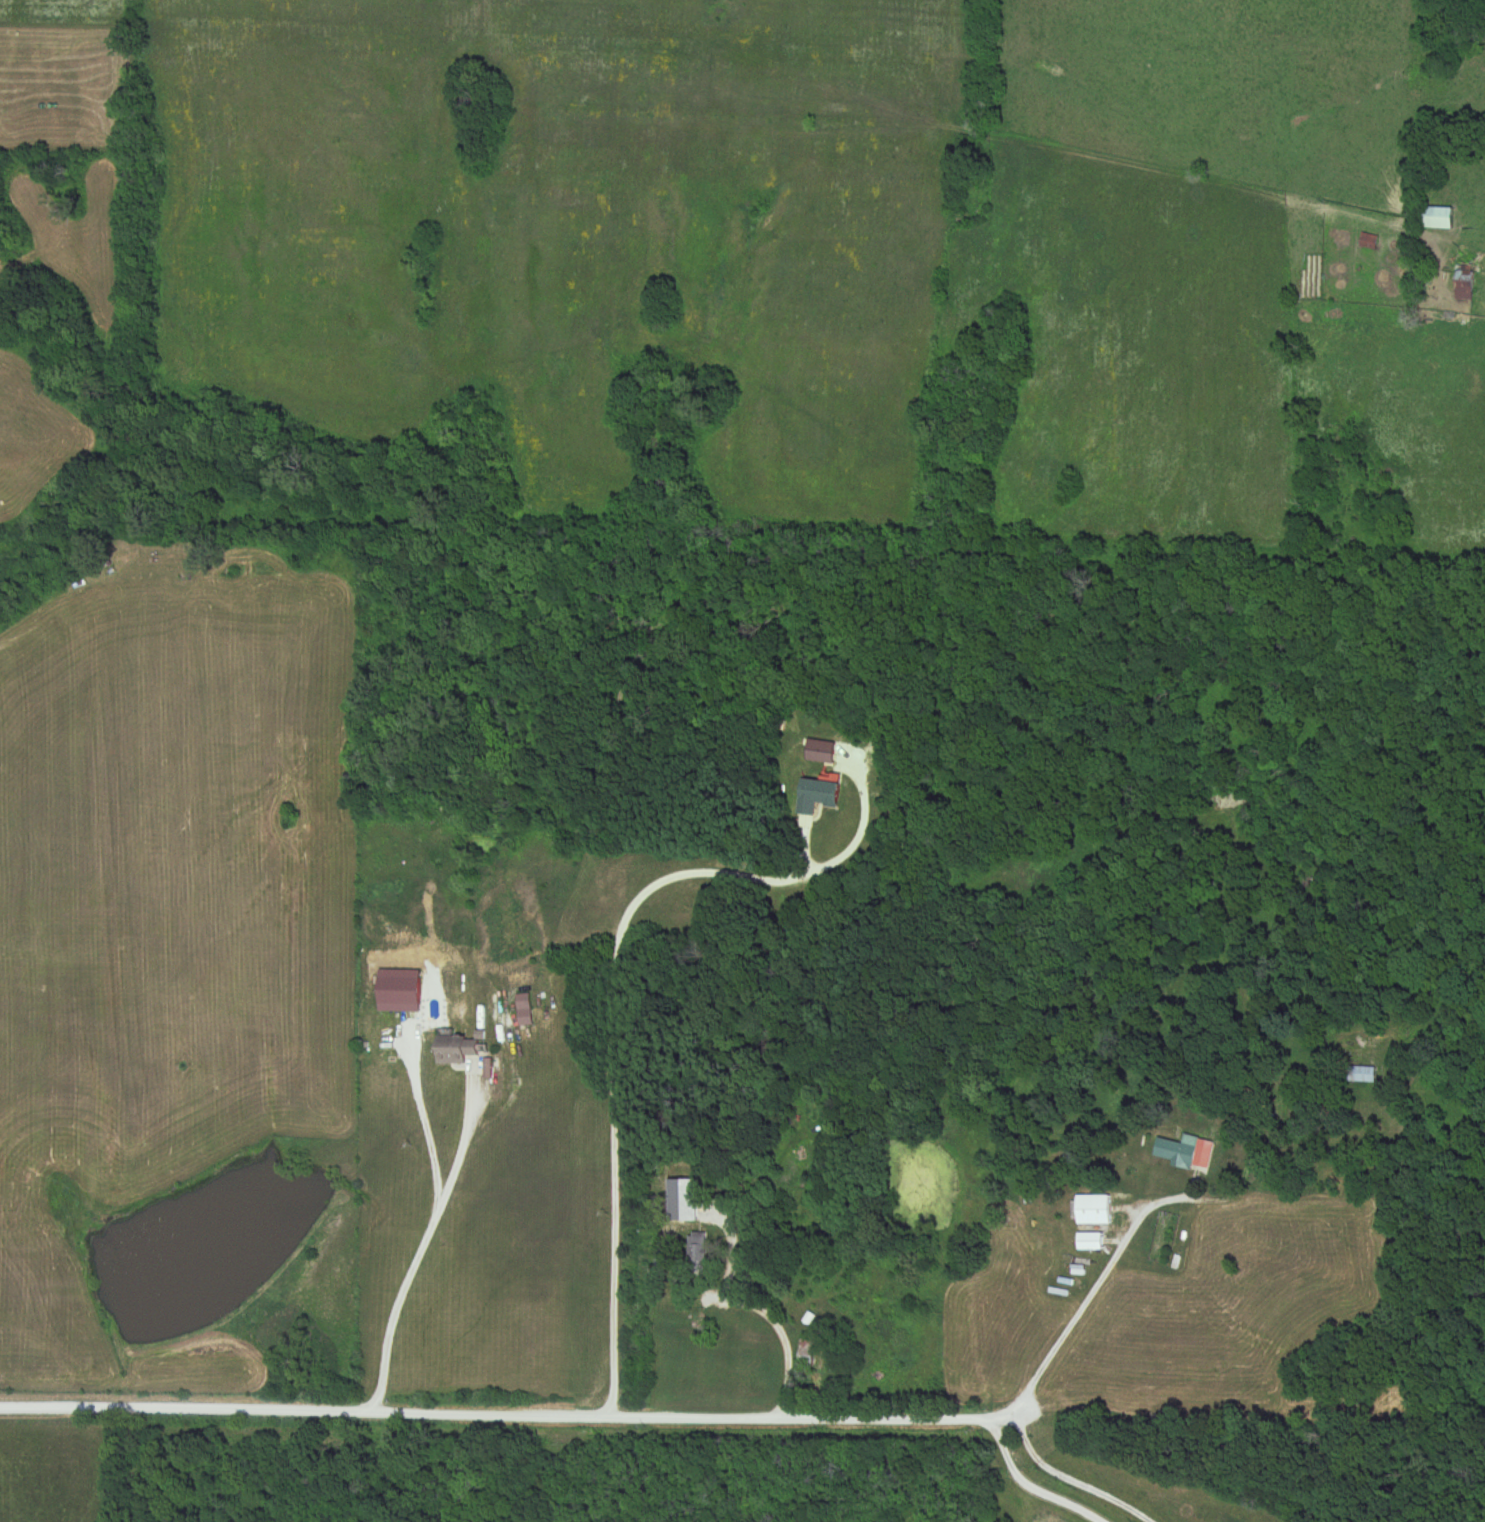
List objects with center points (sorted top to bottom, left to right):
building: (1439, 218)
building: (1368, 242)
building: (1464, 290)
building: (818, 796)
road: (614, 1045)
building: (455, 1056)
building: (1359, 1075)
road: (421, 1118)
building: (1187, 1154)
building: (1094, 1211)
building: (1090, 1242)
road: (418, 1248)
building: (696, 1252)
road: (1085, 1297)
road: (757, 1307)
building: (708, 1322)
building: (807, 1353)
road: (509, 1416)
road: (1071, 1480)
road: (1032, 1486)

